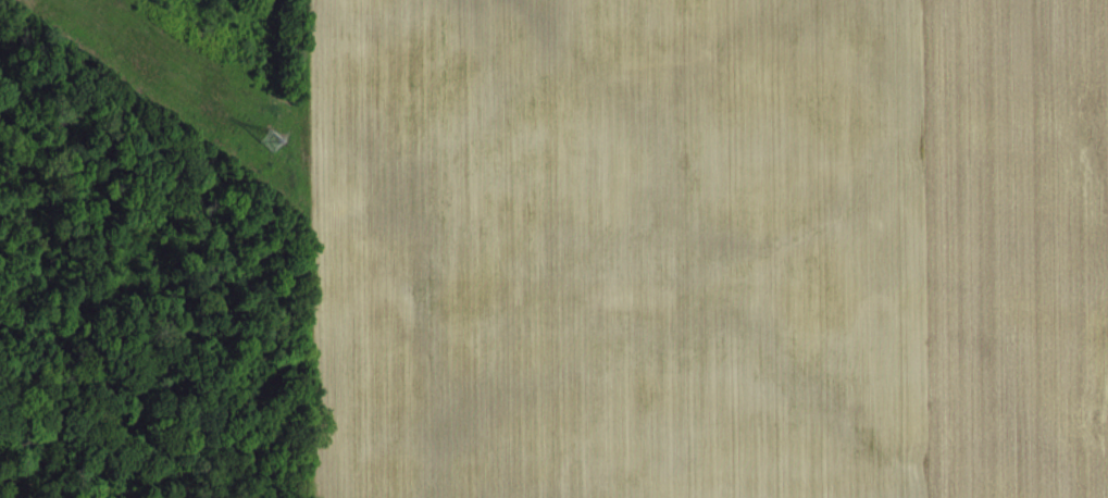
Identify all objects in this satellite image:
power tower: (272, 144)

